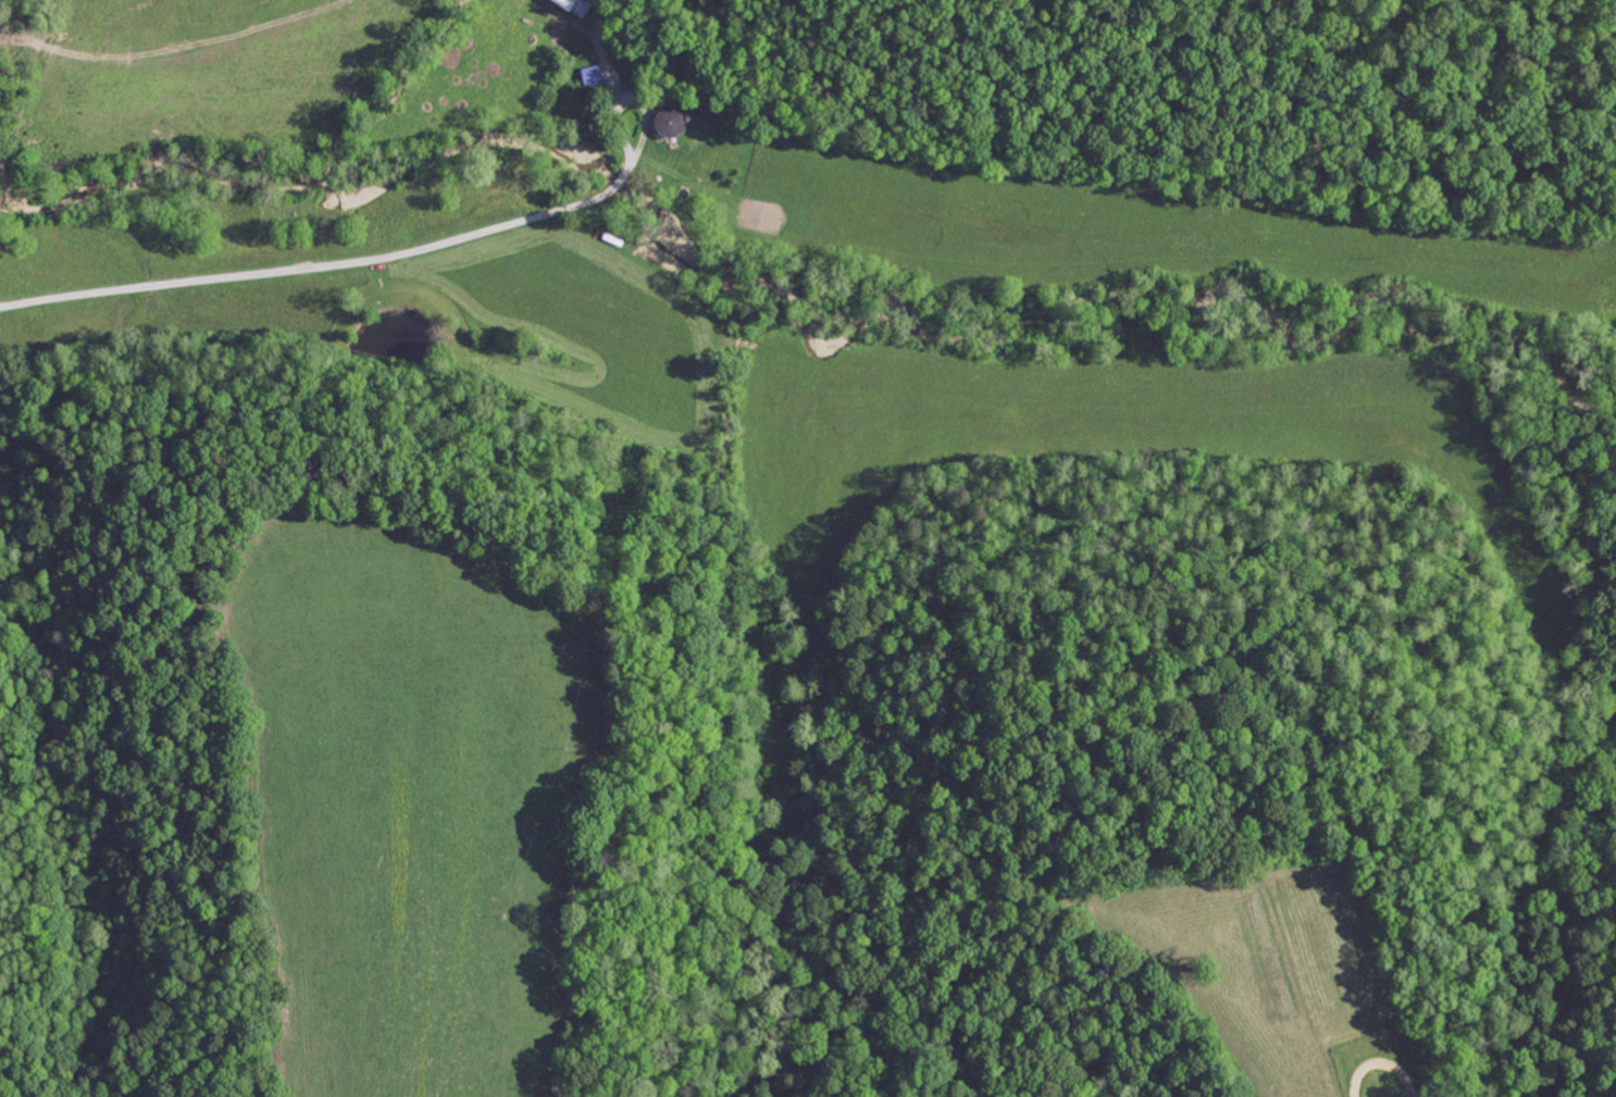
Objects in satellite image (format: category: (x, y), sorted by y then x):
building: (561, 5)
building: (588, 77)
road: (397, 234)

